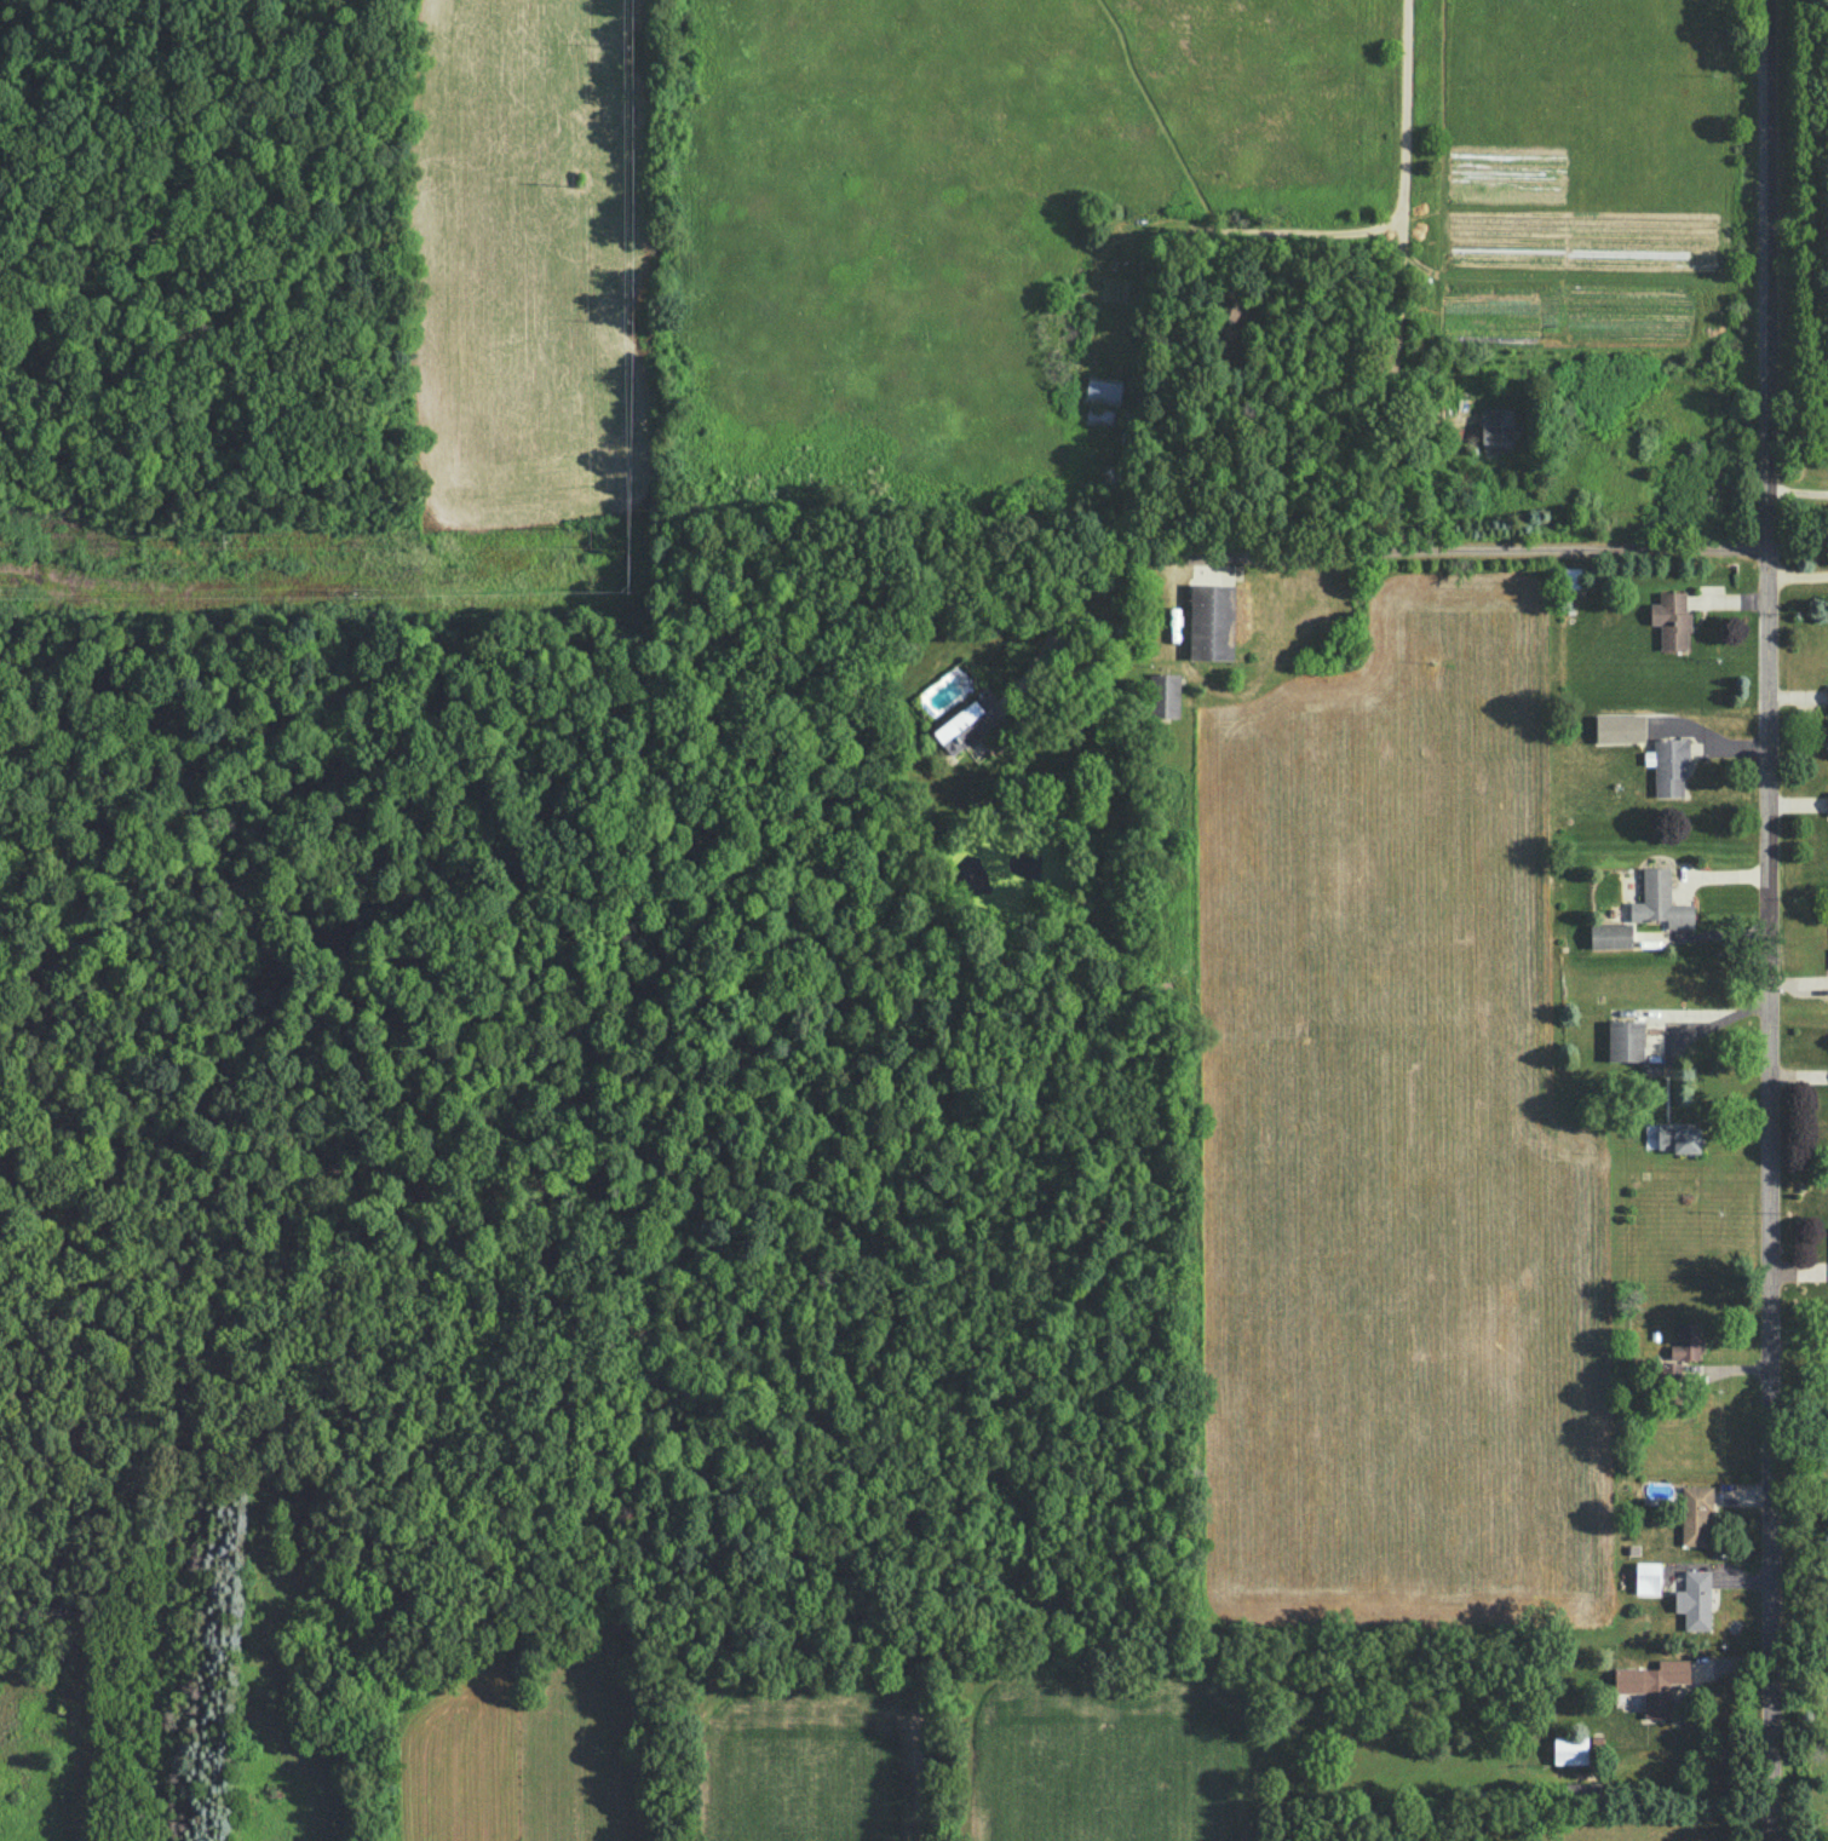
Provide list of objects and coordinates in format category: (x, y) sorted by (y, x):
power tower: (627, 50)
power tower: (580, 186)
road: (1315, 229)
road: (1399, 240)
power tower: (628, 324)
building: (1496, 431)
power tower: (580, 535)
road: (1358, 546)
power tower: (225, 547)
road: (1795, 566)
power tower: (353, 583)
power tower: (628, 592)
power tower: (6, 594)
building: (1671, 620)
building: (1209, 621)
building: (1163, 695)
building: (1827, 698)
building: (966, 724)
building: (1619, 727)
building: (1668, 766)
building: (1827, 813)
building: (1660, 901)
road: (1765, 920)
building: (1610, 936)
building: (1625, 1040)
building: (1679, 1137)
building: (1686, 1341)
building: (1695, 1514)
building: (1646, 1577)
building: (1694, 1599)
building: (1652, 1684)
building: (1569, 1750)

